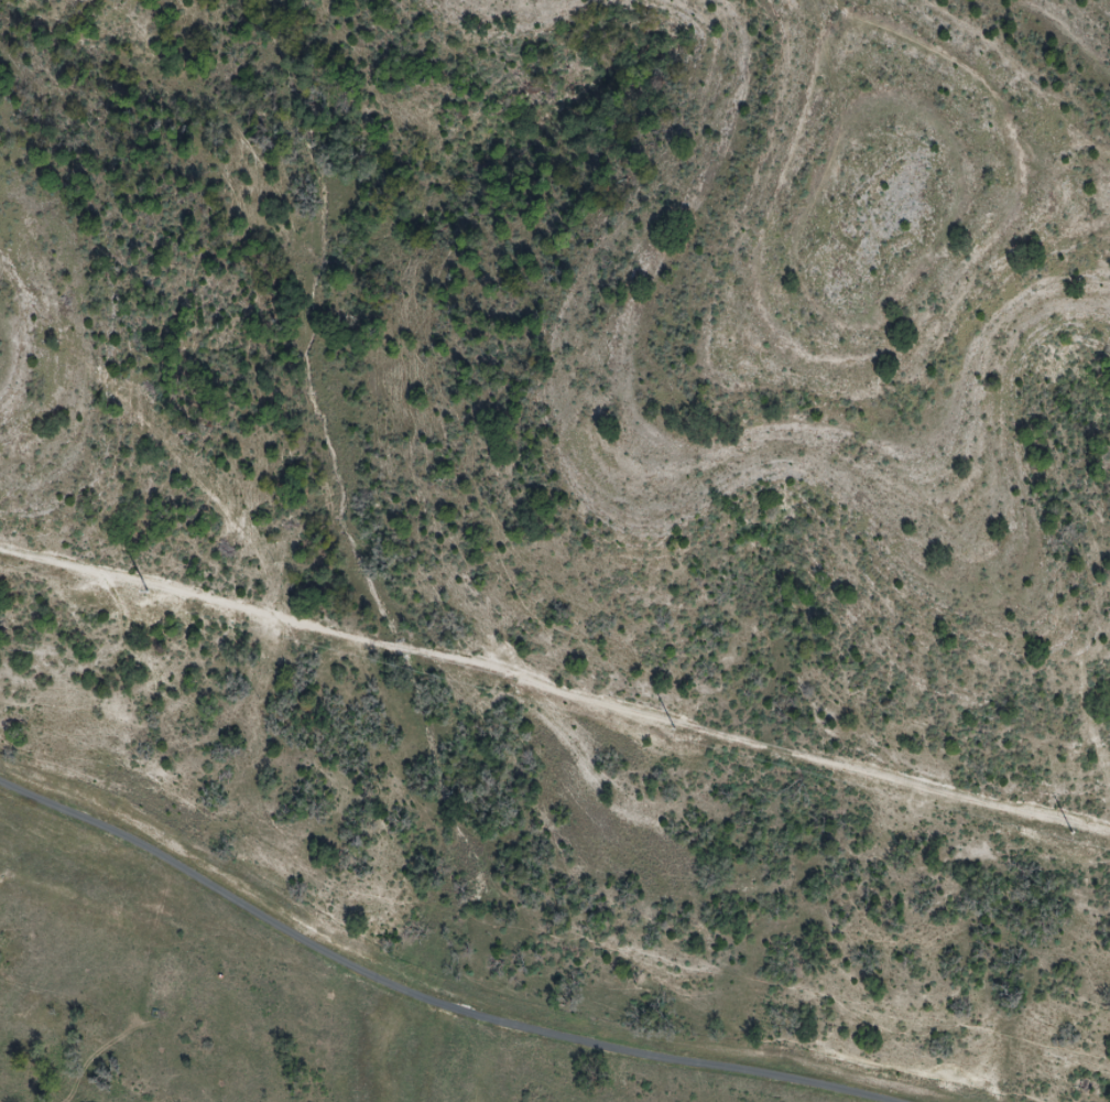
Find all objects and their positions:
power tower: (150, 592)
power tower: (678, 730)
power tower: (1076, 833)
road: (469, 997)

